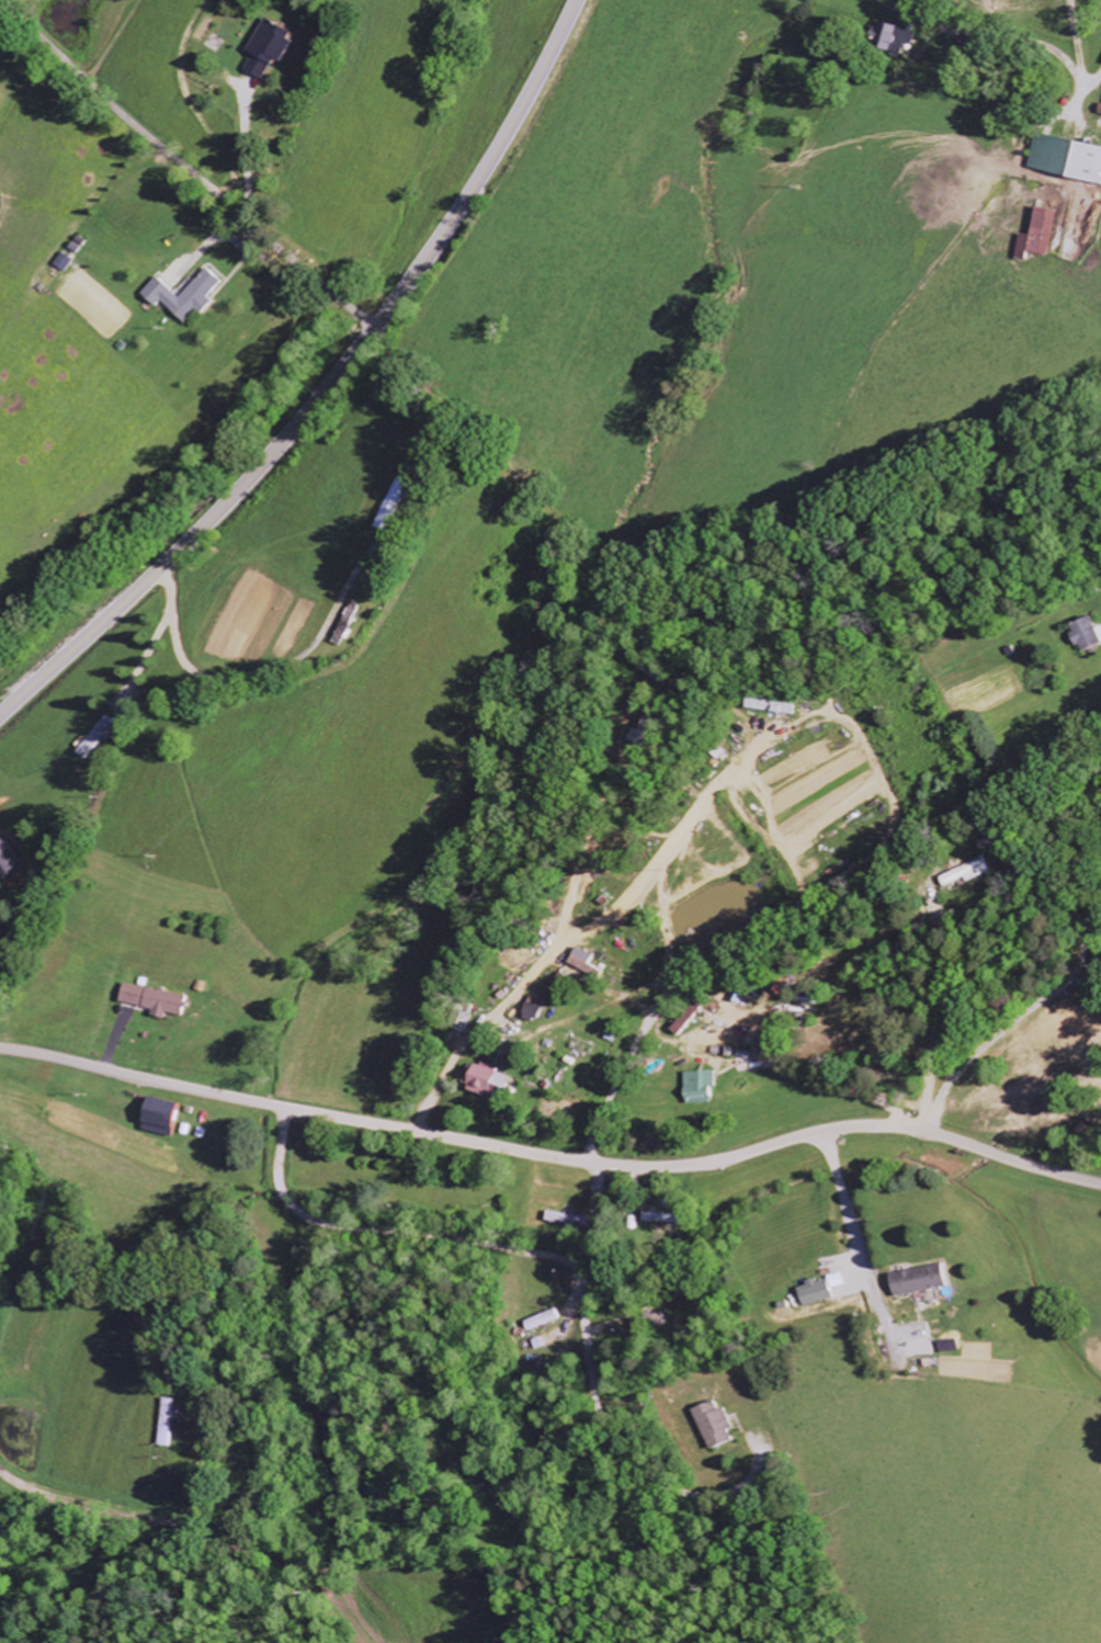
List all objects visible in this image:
road: (979, 23)
building: (888, 39)
building: (271, 47)
building: (1098, 111)
building: (1064, 160)
road: (188, 167)
building: (1033, 236)
building: (191, 296)
road: (326, 388)
building: (390, 522)
building: (1083, 634)
road: (152, 643)
road: (264, 667)
building: (770, 706)
building: (12, 859)
building: (965, 872)
road: (797, 900)
building: (1, 927)
building: (581, 963)
building: (159, 1001)
building: (531, 1009)
road: (938, 1017)
building: (485, 1080)
building: (697, 1087)
building: (167, 1119)
road: (550, 1156)
building: (561, 1219)
road: (853, 1233)
road: (560, 1253)
building: (916, 1281)
building: (813, 1292)
building: (541, 1319)
building: (163, 1423)
building: (713, 1425)
road: (144, 1514)

